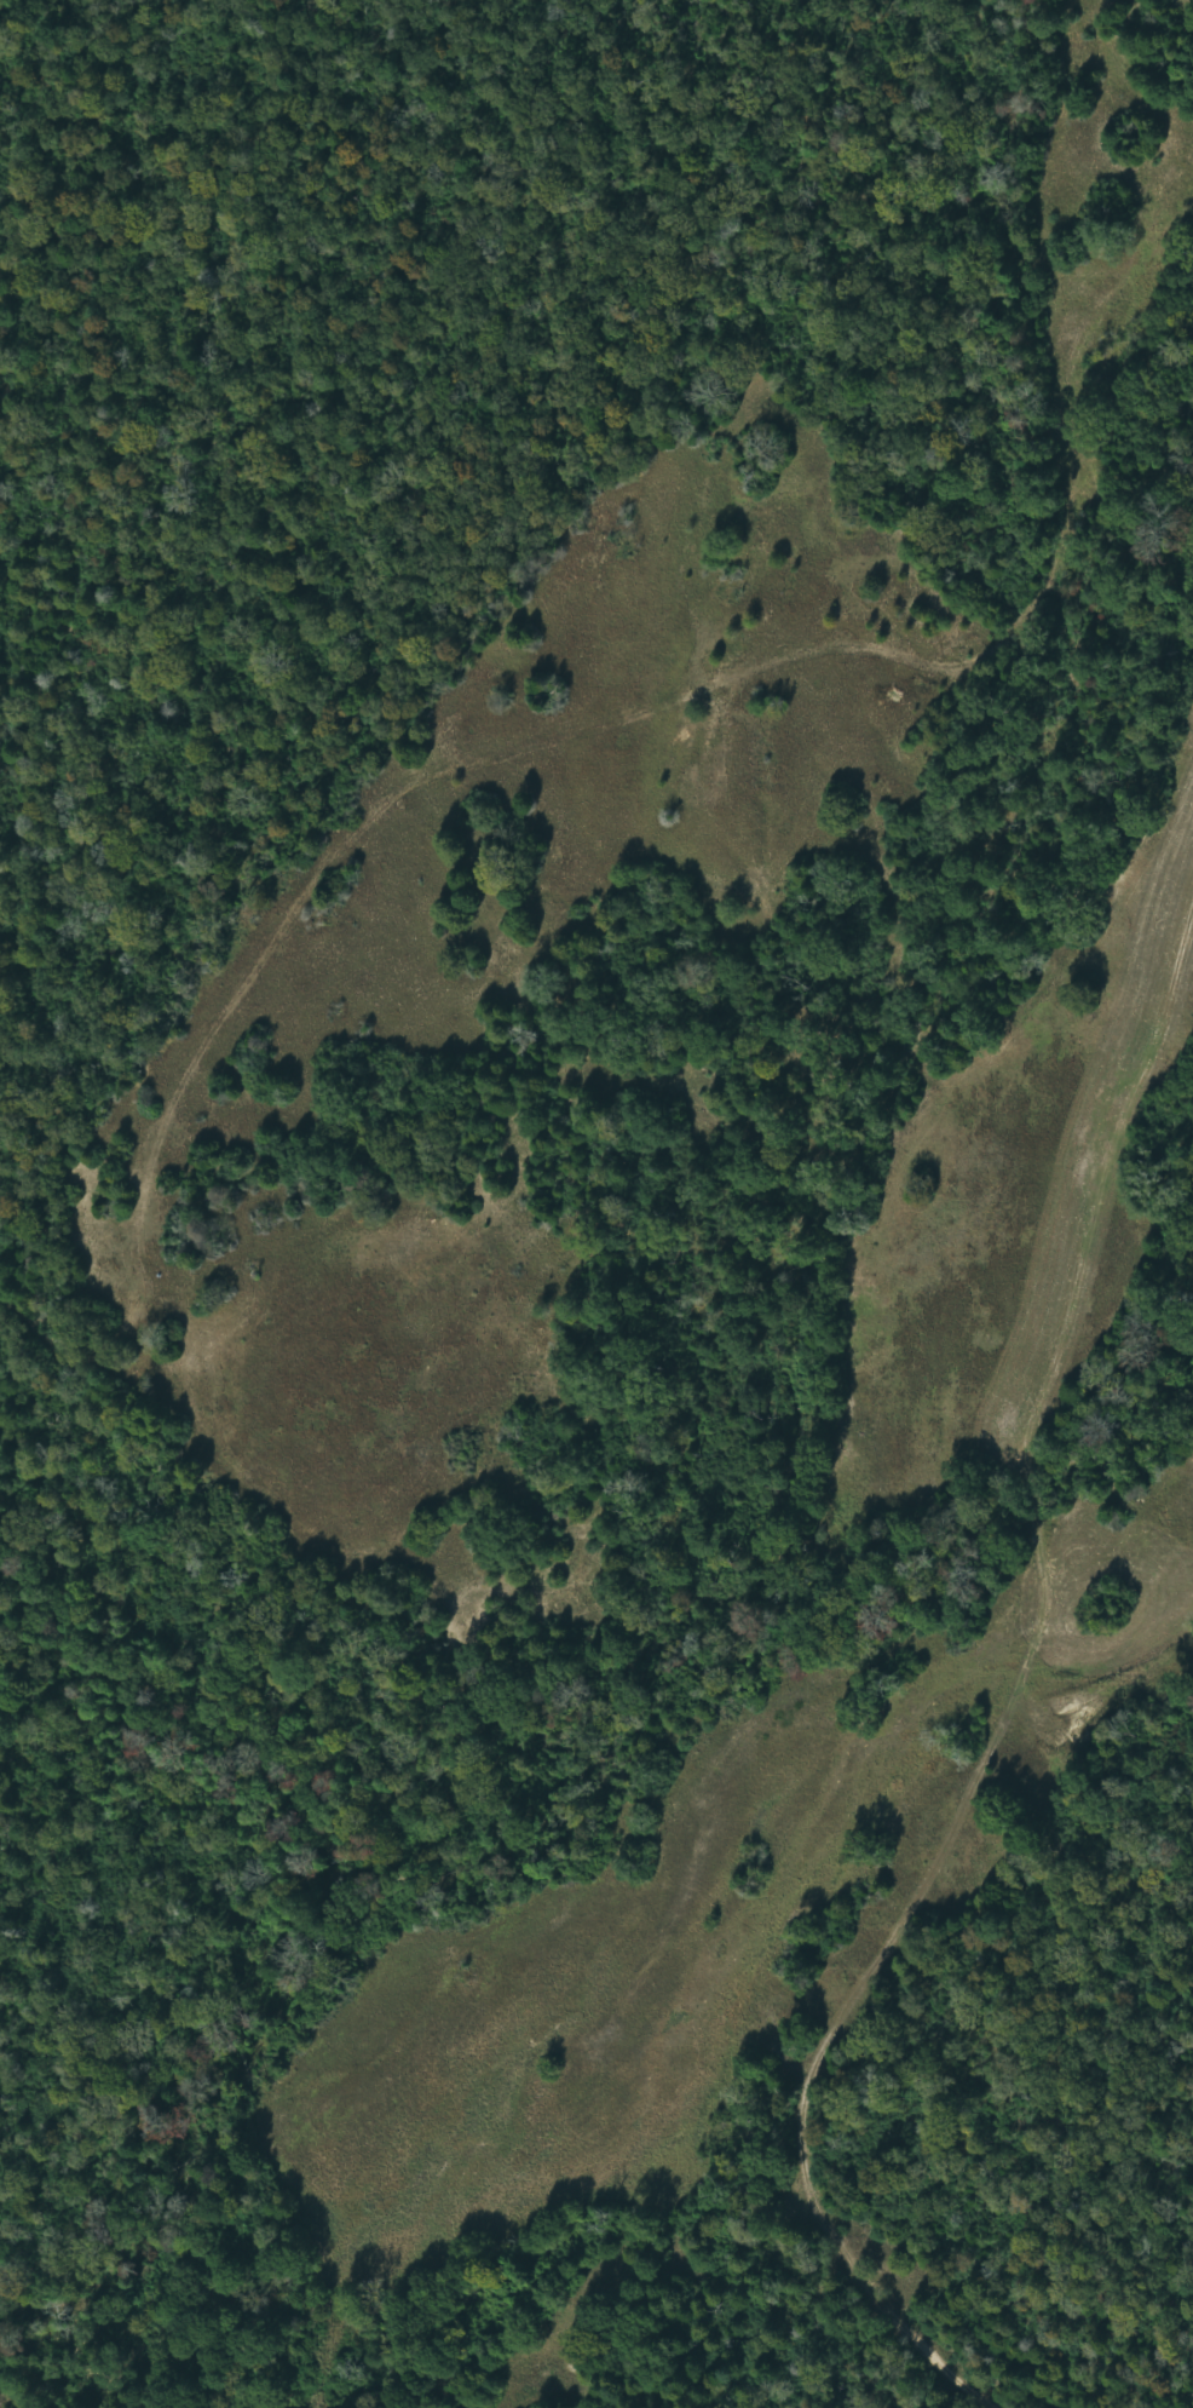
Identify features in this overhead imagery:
road: (1093, 1209)

